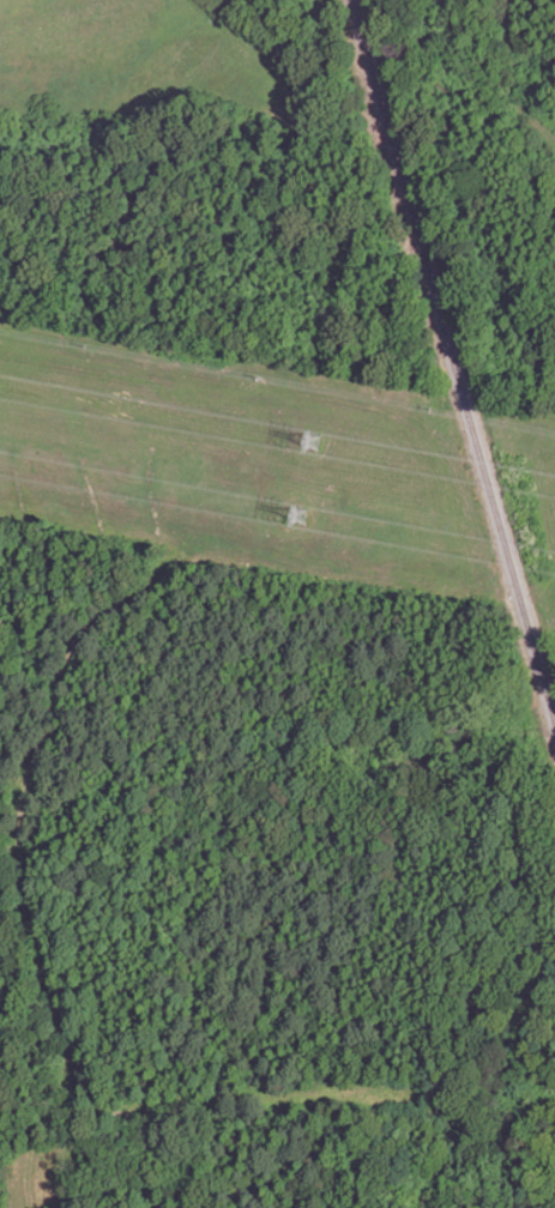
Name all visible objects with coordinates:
railway: (452, 360)
power tower: (308, 446)
power tower: (297, 523)

